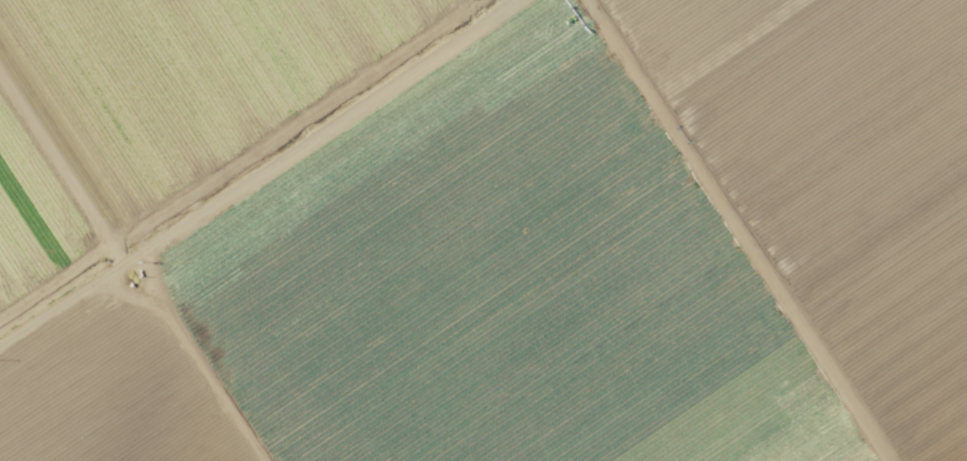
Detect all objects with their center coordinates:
road: (255, 175)
crop: (483, 230)

